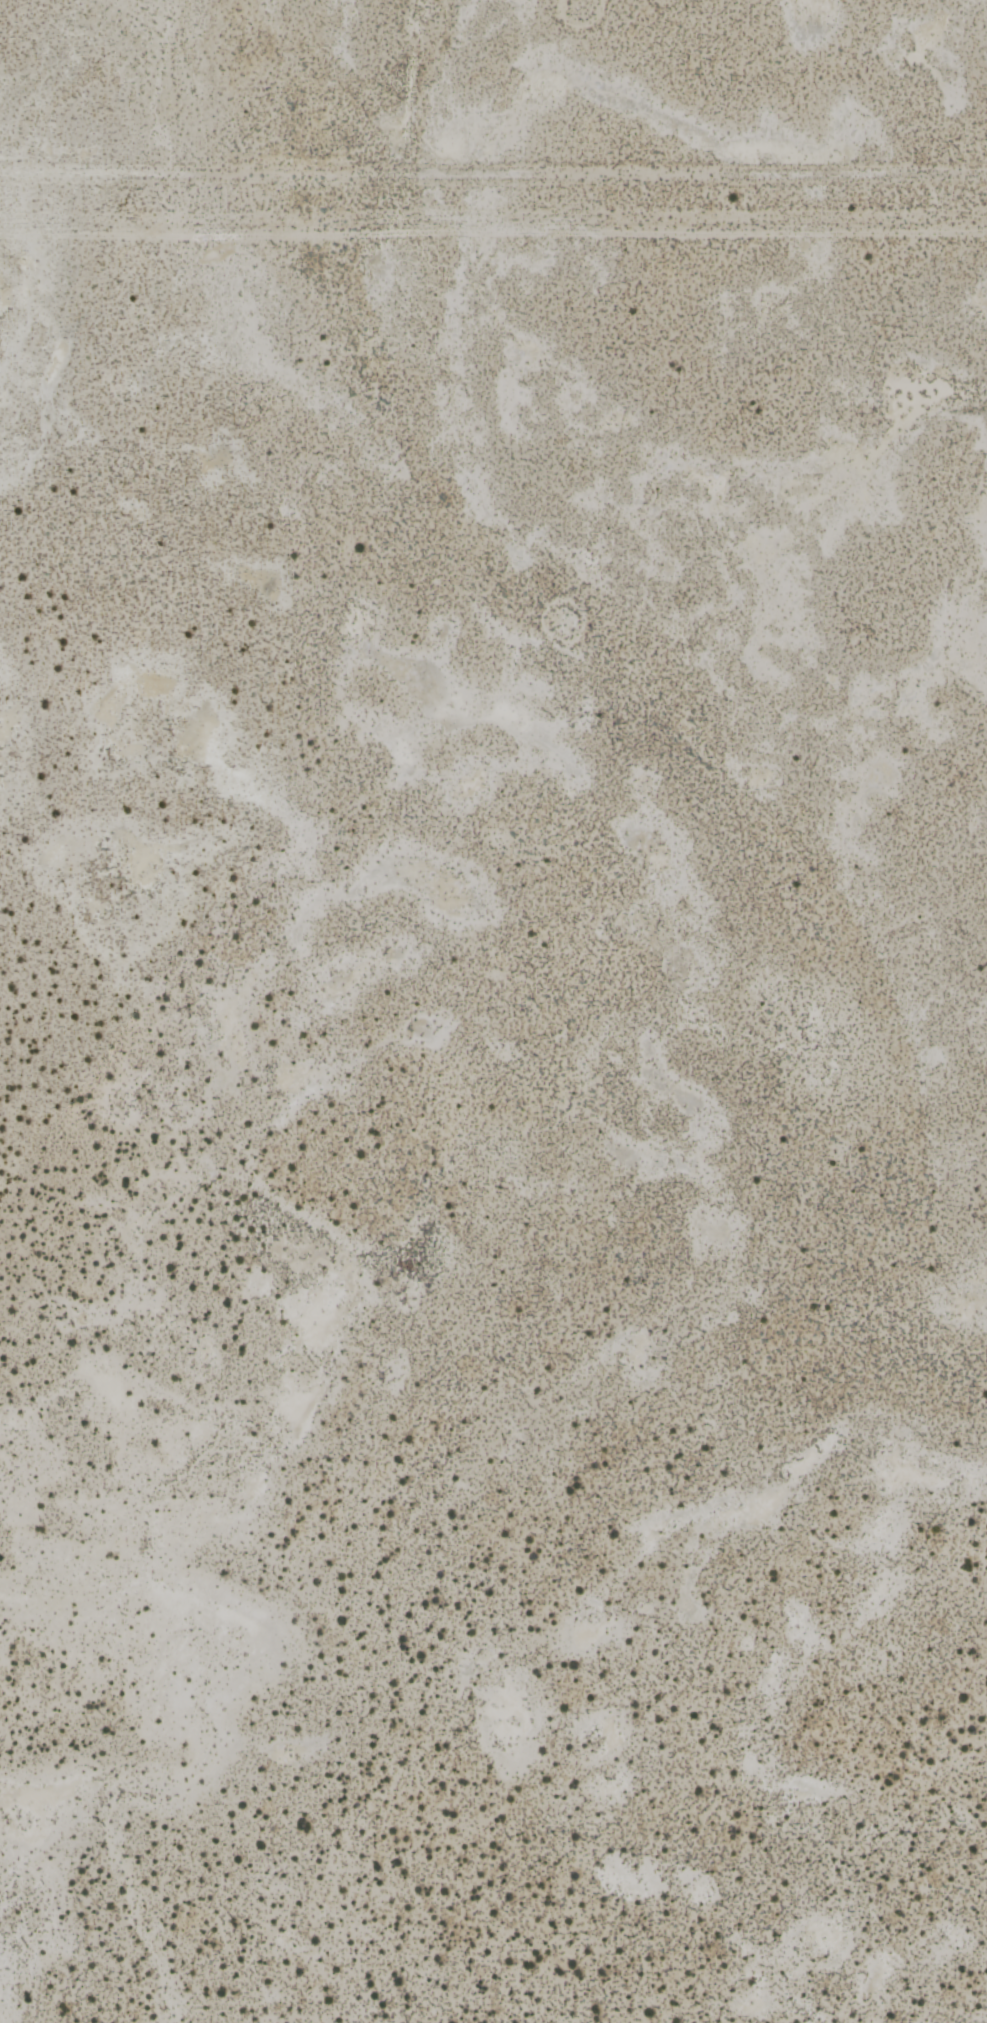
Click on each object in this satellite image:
airport: (493, 1129)

